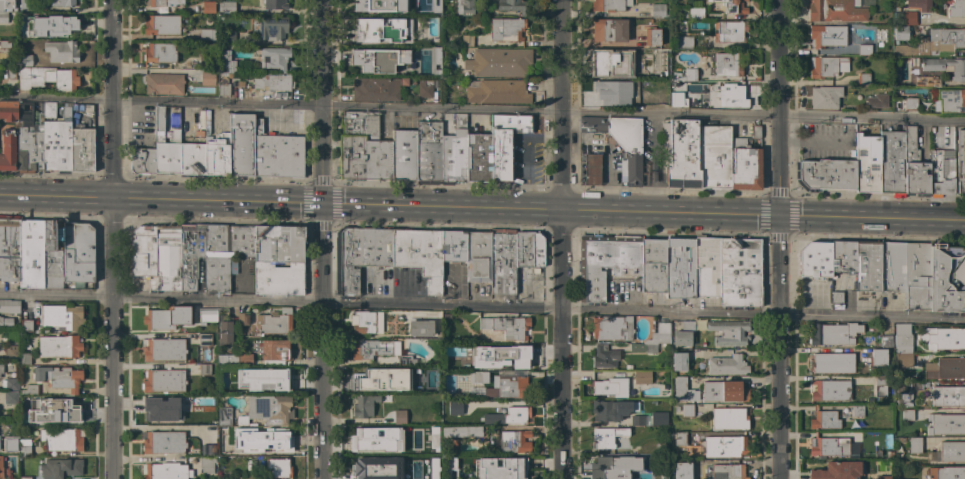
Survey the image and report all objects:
building: (716, 1)
building: (62, 3)
building: (161, 3)
building: (275, 4)
building: (28, 5)
building: (370, 5)
building: (512, 5)
building: (609, 5)
building: (919, 5)
building: (7, 6)
building: (208, 7)
building: (226, 7)
building: (465, 7)
building: (734, 7)
building: (407, 9)
building: (957, 9)
building: (658, 11)
building: (836, 11)
building: (693, 13)
building: (903, 16)
building: (3, 17)
building: (51, 25)
building: (161, 25)
building: (269, 28)
building: (504, 29)
building: (382, 30)
building: (610, 30)
building: (730, 31)
building: (901, 32)
building: (207, 34)
building: (828, 36)
building: (229, 37)
building: (652, 38)
building: (467, 40)
building: (685, 41)
building: (935, 43)
building: (5, 44)
building: (866, 49)
building: (404, 50)
building: (61, 51)
building: (160, 52)
road: (321, 53)
road: (559, 57)
building: (274, 58)
building: (29, 60)
building: (226, 62)
building: (368, 62)
building: (497, 62)
building: (610, 62)
building: (660, 64)
building: (730, 64)
building: (703, 65)
building: (827, 66)
building: (932, 69)
building: (12, 72)
building: (467, 74)
building: (690, 74)
building: (207, 78)
building: (223, 78)
building: (47, 79)
building: (863, 79)
building: (926, 80)
building: (273, 82)
building: (164, 84)
building: (427, 88)
building: (375, 89)
building: (224, 90)
building: (498, 92)
building: (627, 94)
building: (734, 95)
building: (825, 97)
building: (676, 99)
road: (111, 100)
building: (881, 100)
building: (950, 100)
road: (160, 102)
building: (910, 104)
building: (896, 105)
road: (780, 109)
building: (49, 110)
road: (440, 110)
building: (159, 118)
road: (762, 118)
building: (755, 132)
building: (8, 135)
building: (29, 138)
road: (812, 139)
building: (620, 140)
building: (505, 142)
building: (57, 143)
building: (241, 144)
building: (363, 148)
building: (82, 150)
building: (454, 151)
building: (428, 152)
building: (681, 153)
building: (167, 154)
building: (277, 154)
building: (403, 155)
building: (216, 156)
road: (320, 156)
building: (623, 156)
building: (715, 157)
building: (478, 158)
building: (192, 160)
building: (142, 161)
building: (960, 161)
building: (867, 162)
road: (560, 163)
building: (891, 163)
building: (745, 165)
building: (914, 166)
building: (592, 169)
building: (826, 174)
building: (940, 174)
road: (55, 199)
road: (215, 203)
traffic signals: (320, 206)
road: (440, 209)
road: (670, 215)
traffic signals: (780, 218)
road: (872, 220)
building: (241, 241)
building: (454, 247)
building: (9, 248)
building: (523, 249)
building: (536, 250)
building: (77, 253)
building: (30, 254)
building: (190, 254)
building: (157, 255)
building: (362, 255)
building: (420, 255)
building: (478, 256)
building: (842, 256)
building: (52, 258)
building: (217, 258)
building: (280, 259)
building: (815, 260)
building: (502, 261)
building: (605, 263)
building: (653, 265)
building: (706, 266)
building: (867, 266)
building: (892, 267)
building: (679, 268)
building: (739, 272)
building: (917, 275)
building: (945, 280)
building: (837, 297)
building: (9, 306)
road: (482, 307)
building: (220, 311)
building: (206, 315)
building: (62, 317)
building: (168, 318)
building: (243, 319)
building: (5, 322)
building: (274, 322)
building: (363, 322)
building: (26, 326)
building: (505, 327)
building: (420, 328)
building: (611, 328)
building: (226, 330)
building: (729, 332)
building: (659, 334)
building: (683, 334)
building: (833, 334)
building: (902, 338)
building: (943, 338)
road: (111, 339)
building: (204, 339)
building: (886, 340)
road: (320, 342)
road: (561, 345)
building: (664, 346)
building: (58, 347)
building: (643, 347)
building: (373, 348)
road: (780, 348)
building: (163, 349)
building: (273, 350)
building: (476, 350)
building: (11, 352)
building: (604, 356)
building: (877, 357)
building: (24, 358)
building: (245, 359)
building: (512, 359)
building: (227, 360)
building: (406, 360)
building: (903, 360)
building: (678, 361)
building: (832, 363)
building: (476, 364)
building: (727, 365)
building: (628, 367)
building: (1, 369)
building: (204, 369)
building: (945, 369)
building: (672, 374)
building: (58, 377)
building: (273, 377)
building: (476, 377)
building: (642, 377)
building: (366, 378)
building: (163, 380)
building: (399, 380)
building: (11, 384)
building: (880, 386)
building: (241, 387)
building: (610, 387)
building: (508, 388)
building: (925, 388)
building: (28, 389)
building: (682, 390)
building: (830, 391)
building: (724, 392)
building: (903, 394)
building: (947, 396)
building: (11, 398)
building: (922, 404)
building: (364, 406)
building: (59, 408)
building: (454, 408)
building: (269, 409)
building: (611, 409)
building: (687, 410)
building: (164, 411)
building: (857, 411)
building: (907, 415)
building: (224, 416)
building: (508, 416)
building: (399, 417)
building: (729, 418)
building: (25, 420)
building: (240, 420)
building: (824, 420)
building: (637, 421)
building: (945, 424)
building: (12, 427)
building: (463, 432)
building: (363, 436)
building: (607, 436)
building: (432, 437)
building: (272, 438)
building: (680, 438)
building: (61, 439)
building: (901, 439)
building: (163, 442)
building: (512, 442)
building: (915, 445)
building: (723, 446)
building: (401, 447)
building: (661, 447)
building: (827, 447)
building: (24, 448)
building: (208, 449)
building: (232, 449)
building: (951, 451)
building: (208, 464)
building: (371, 464)
building: (449, 464)
building: (610, 466)
building: (882, 466)
building: (60, 468)
building: (278, 468)
building: (500, 468)
building: (0, 469)
building: (165, 471)
building: (682, 471)
building: (728, 471)
building: (834, 471)
building: (946, 473)
building: (398, 475)
building: (644, 476)
building: (24, 477)

